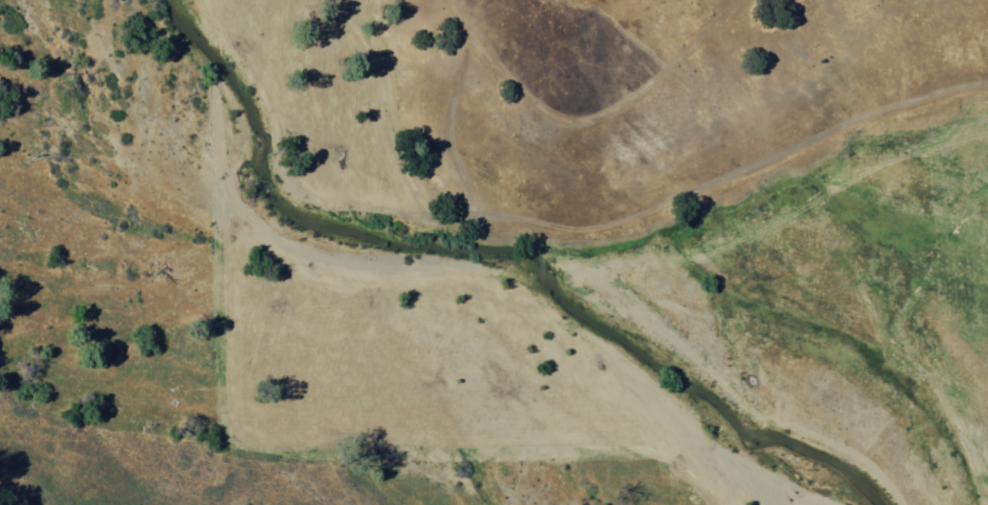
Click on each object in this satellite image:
river: (473, 273)

